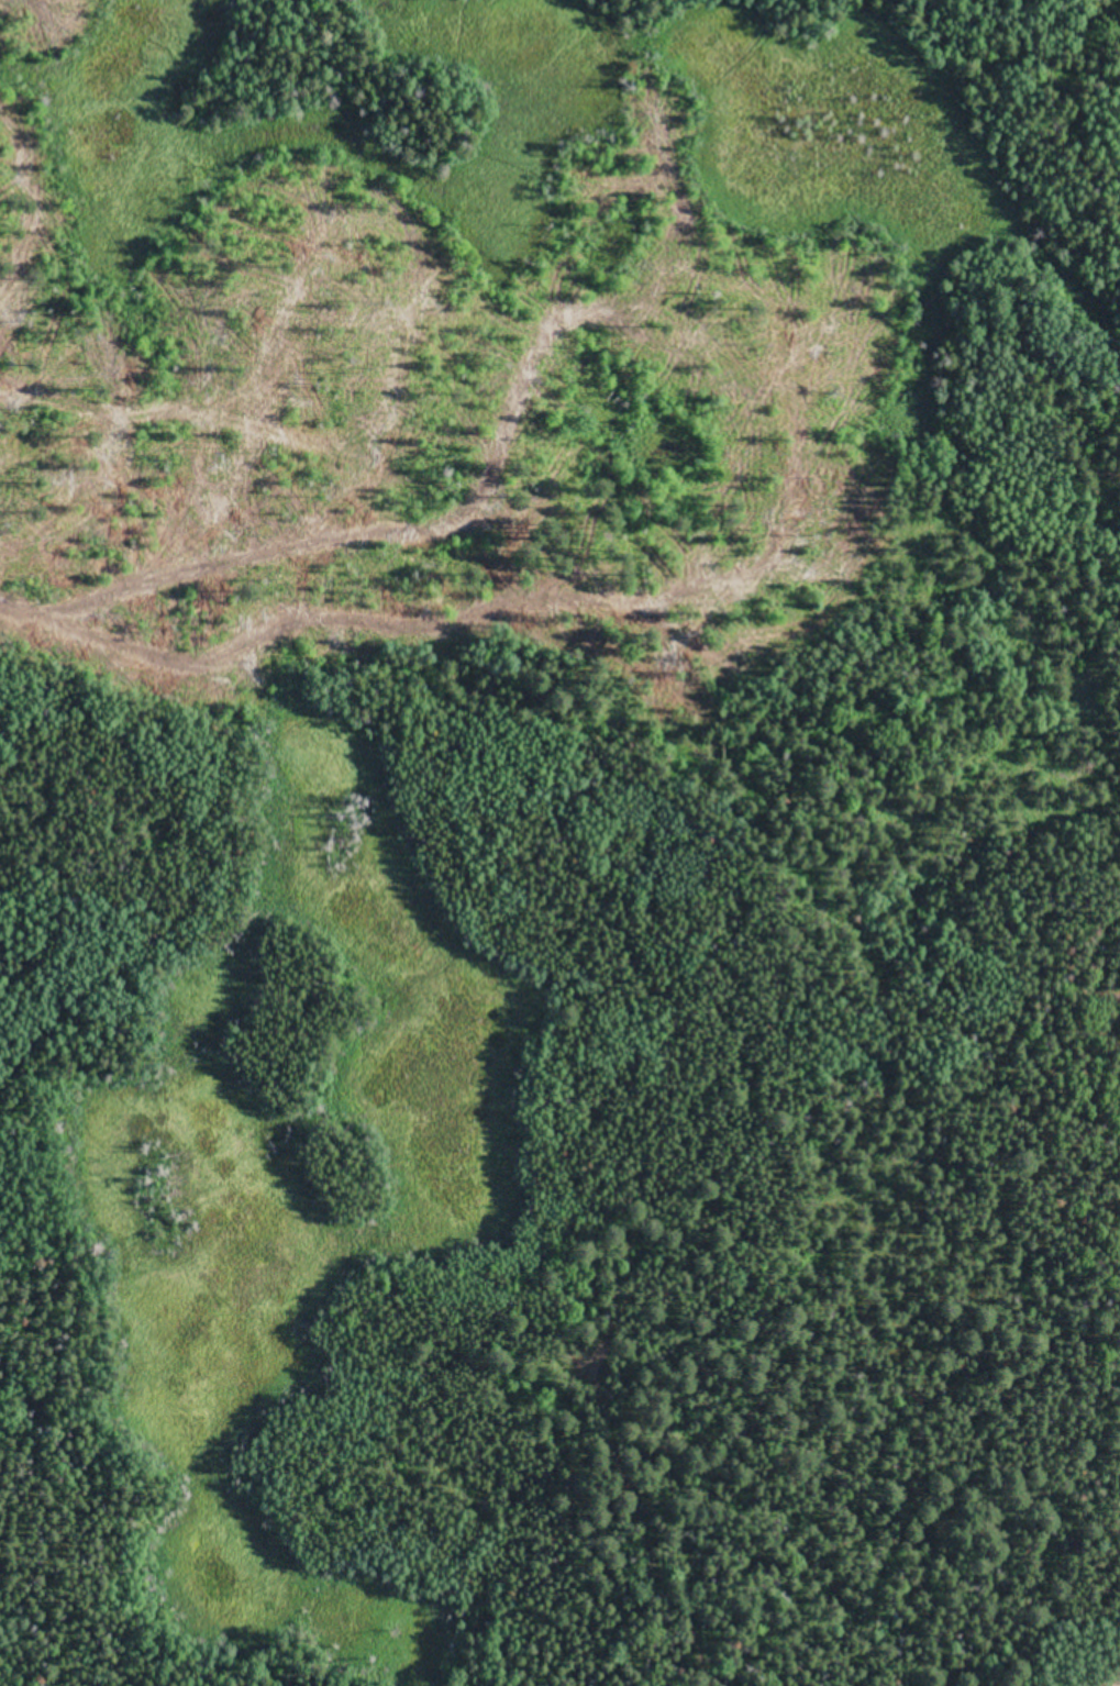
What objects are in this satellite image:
road: (1086, 1663)

